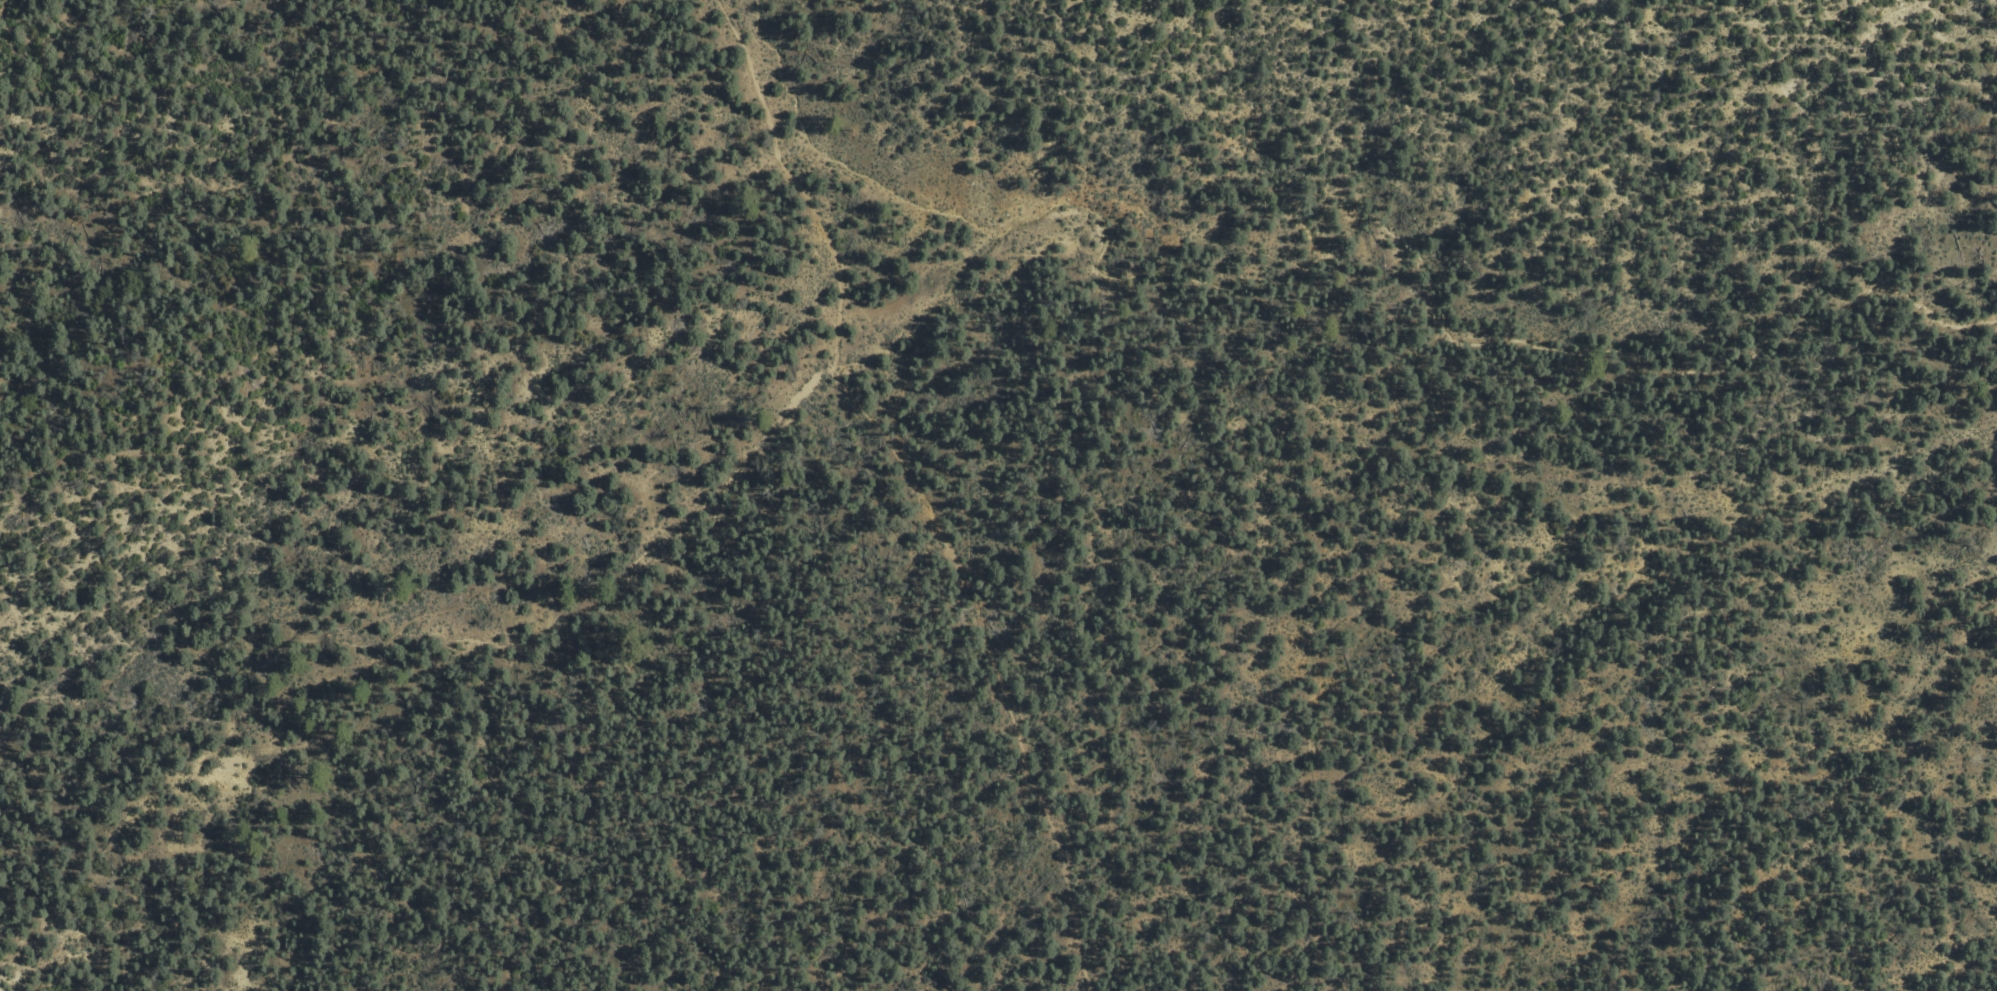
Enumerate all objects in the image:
road: (912, 486)

